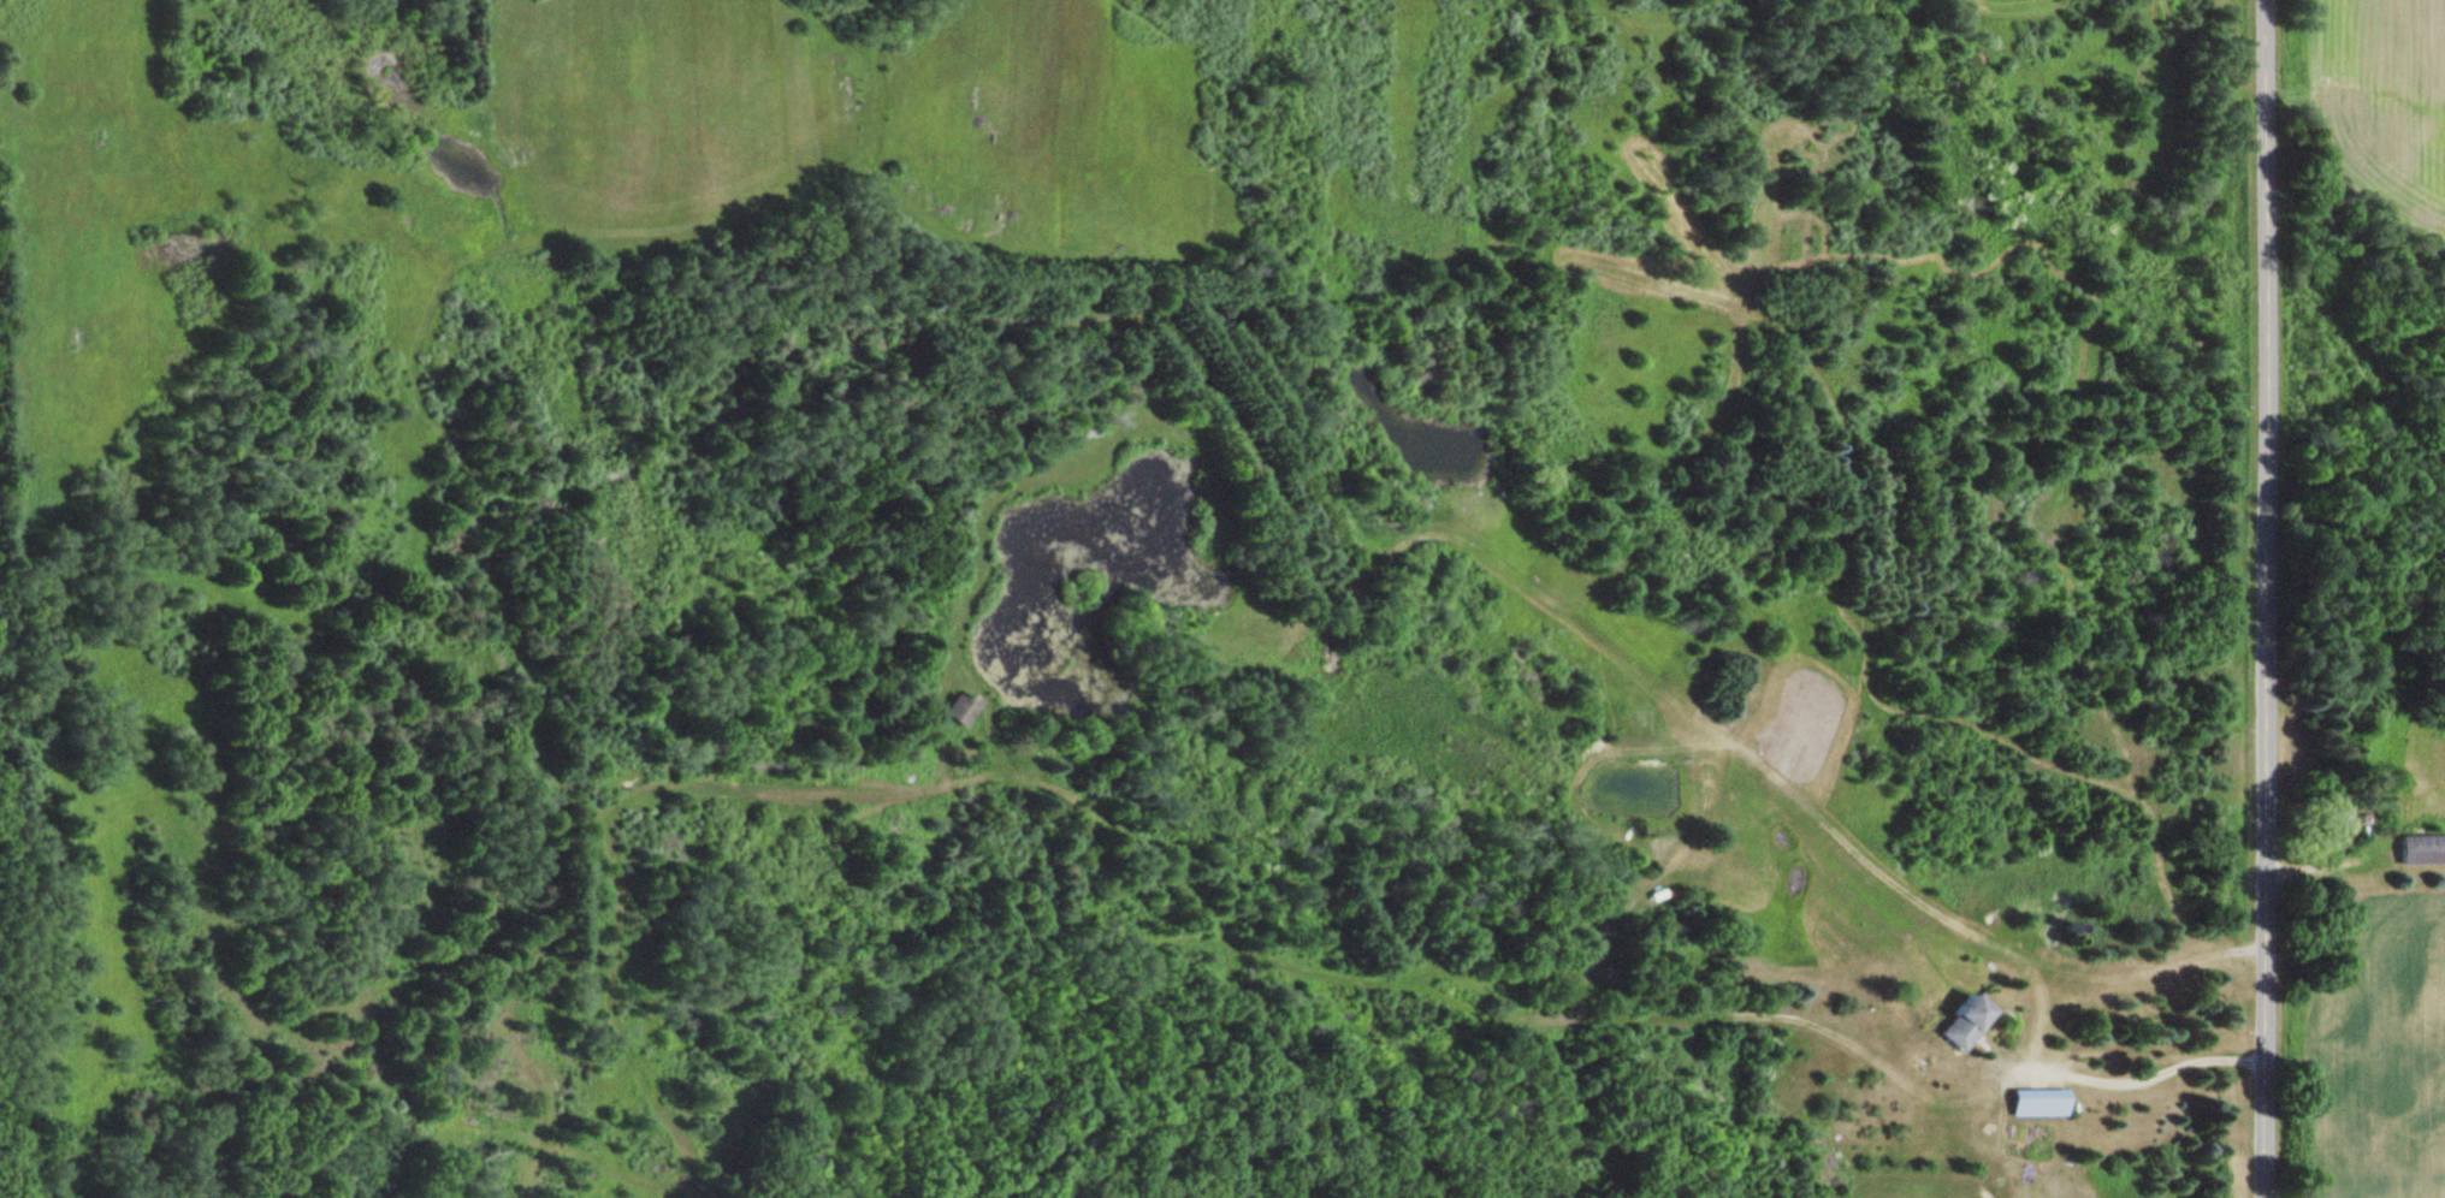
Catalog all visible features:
road: (2268, 599)
building: (955, 708)
building: (2327, 825)
building: (2420, 849)
building: (1959, 1021)
building: (2035, 1103)

